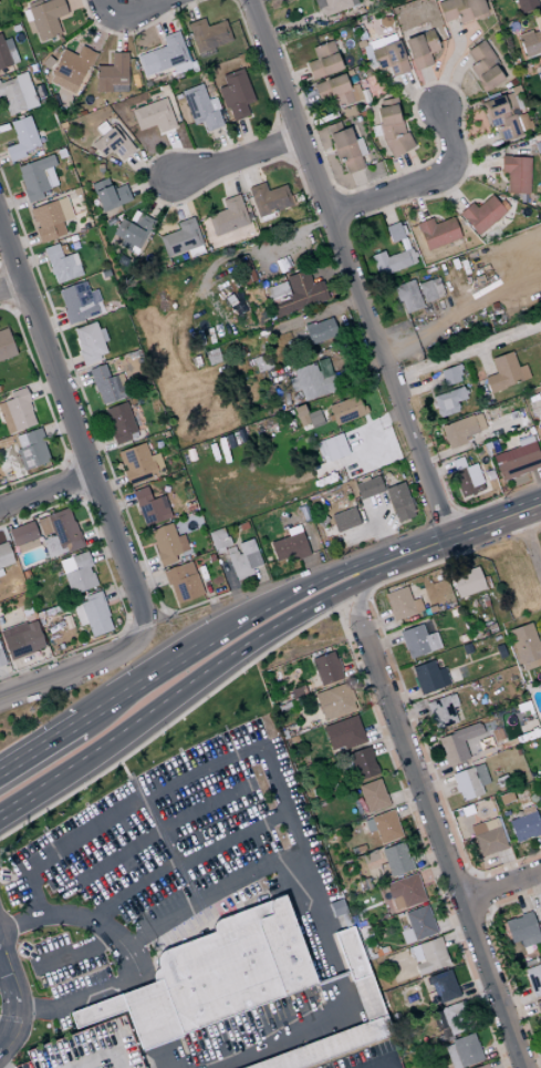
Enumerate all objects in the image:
building: (333, 6)
building: (524, 6)
building: (459, 10)
road: (131, 14)
building: (43, 19)
building: (207, 34)
building: (531, 39)
building: (419, 49)
building: (4, 53)
building: (162, 55)
building: (389, 58)
building: (322, 60)
building: (539, 66)
building: (483, 68)
building: (70, 69)
building: (111, 73)
building: (336, 92)
building: (15, 94)
building: (235, 94)
building: (200, 107)
building: (153, 115)
building: (502, 117)
building: (391, 127)
building: (21, 138)
building: (112, 144)
building: (346, 150)
road: (235, 156)
building: (514, 174)
building: (35, 177)
road: (418, 184)
building: (108, 195)
building: (267, 198)
building: (482, 214)
building: (227, 216)
building: (50, 219)
building: (132, 229)
building: (393, 232)
building: (436, 233)
building: (180, 238)
building: (391, 261)
building: (60, 264)
road: (347, 268)
building: (239, 273)
road: (11, 286)
building: (429, 289)
building: (275, 291)
building: (300, 294)
building: (406, 297)
building: (77, 302)
building: (235, 304)
building: (319, 331)
building: (89, 342)
building: (6, 346)
road: (466, 353)
building: (504, 372)
building: (450, 374)
building: (311, 382)
building: (105, 384)
building: (539, 397)
building: (447, 401)
building: (344, 410)
building: (15, 412)
building: (305, 417)
building: (118, 423)
building: (460, 430)
building: (539, 430)
road: (80, 444)
building: (331, 448)
building: (30, 450)
building: (517, 459)
building: (138, 464)
building: (467, 481)
building: (366, 487)
road: (45, 493)
building: (398, 502)
building: (149, 507)
building: (343, 520)
road: (496, 520)
building: (58, 533)
building: (22, 537)
road: (529, 542)
building: (166, 544)
building: (288, 546)
building: (235, 553)
building: (4, 555)
building: (0, 573)
building: (76, 573)
building: (467, 582)
building: (181, 583)
road: (310, 583)
road: (360, 594)
road: (358, 596)
building: (450, 600)
building: (402, 603)
building: (452, 612)
building: (92, 614)
road: (375, 623)
building: (491, 626)
building: (476, 631)
building: (462, 638)
building: (21, 639)
building: (418, 640)
road: (383, 641)
building: (526, 645)
building: (499, 650)
road: (231, 651)
building: (1, 660)
road: (471, 661)
road: (356, 666)
building: (326, 668)
road: (55, 676)
road: (398, 677)
building: (430, 677)
road: (363, 680)
road: (129, 689)
building: (301, 690)
road: (402, 695)
building: (334, 701)
building: (283, 706)
road: (407, 710)
building: (441, 711)
road: (175, 718)
road: (381, 730)
building: (344, 733)
building: (283, 735)
road: (386, 743)
road: (39, 746)
building: (452, 748)
building: (362, 762)
road: (428, 767)
building: (502, 780)
building: (469, 781)
road: (435, 783)
road: (134, 788)
road: (403, 793)
building: (371, 797)
road: (408, 804)
road: (14, 805)
building: (481, 807)
building: (467, 811)
road: (284, 812)
road: (248, 815)
building: (524, 824)
building: (384, 826)
road: (418, 838)
building: (489, 839)
road: (540, 840)
road: (440, 845)
road: (428, 858)
building: (394, 861)
road: (509, 865)
road: (169, 872)
road: (434, 873)
road: (472, 873)
road: (454, 883)
road: (500, 885)
road: (535, 889)
building: (406, 890)
road: (477, 893)
road: (209, 896)
road: (519, 896)
building: (540, 910)
road: (487, 912)
road: (64, 916)
road: (467, 916)
road: (451, 922)
building: (417, 924)
building: (522, 930)
road: (457, 935)
road: (79, 951)
building: (430, 956)
road: (502, 962)
building: (529, 962)
building: (214, 975)
building: (533, 978)
building: (441, 987)
road: (476, 987)
road: (93, 993)
road: (479, 996)
road: (514, 998)
road: (12, 1002)
building: (538, 1006)
building: (372, 1007)
road: (519, 1011)
building: (456, 1017)
building: (86, 1048)
parking lot: (86, 1048)
road: (498, 1048)
building: (462, 1051)
road: (503, 1061)
road: (531, 1064)
road: (1, 1066)
building: (481, 1066)

